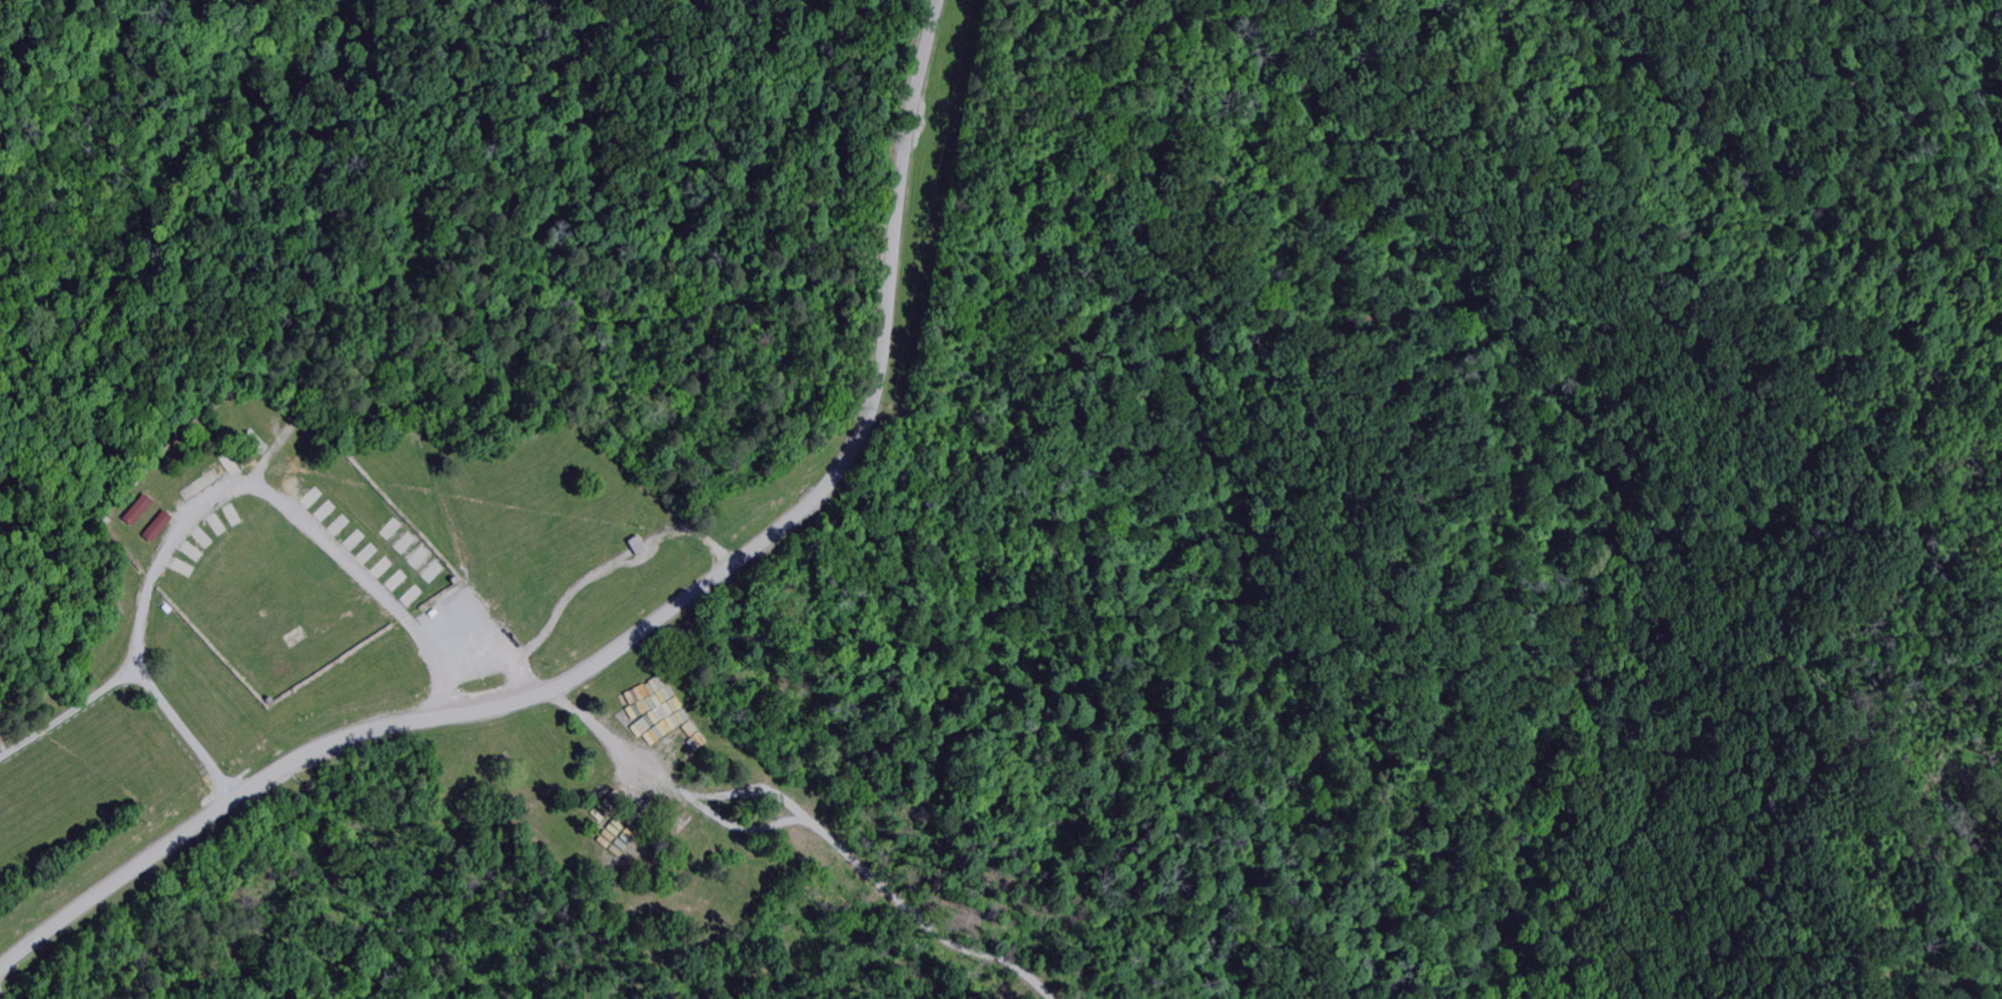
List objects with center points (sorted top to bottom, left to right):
road: (211, 501)
road: (615, 567)
road: (642, 629)
road: (495, 657)
road: (183, 732)
road: (790, 824)

